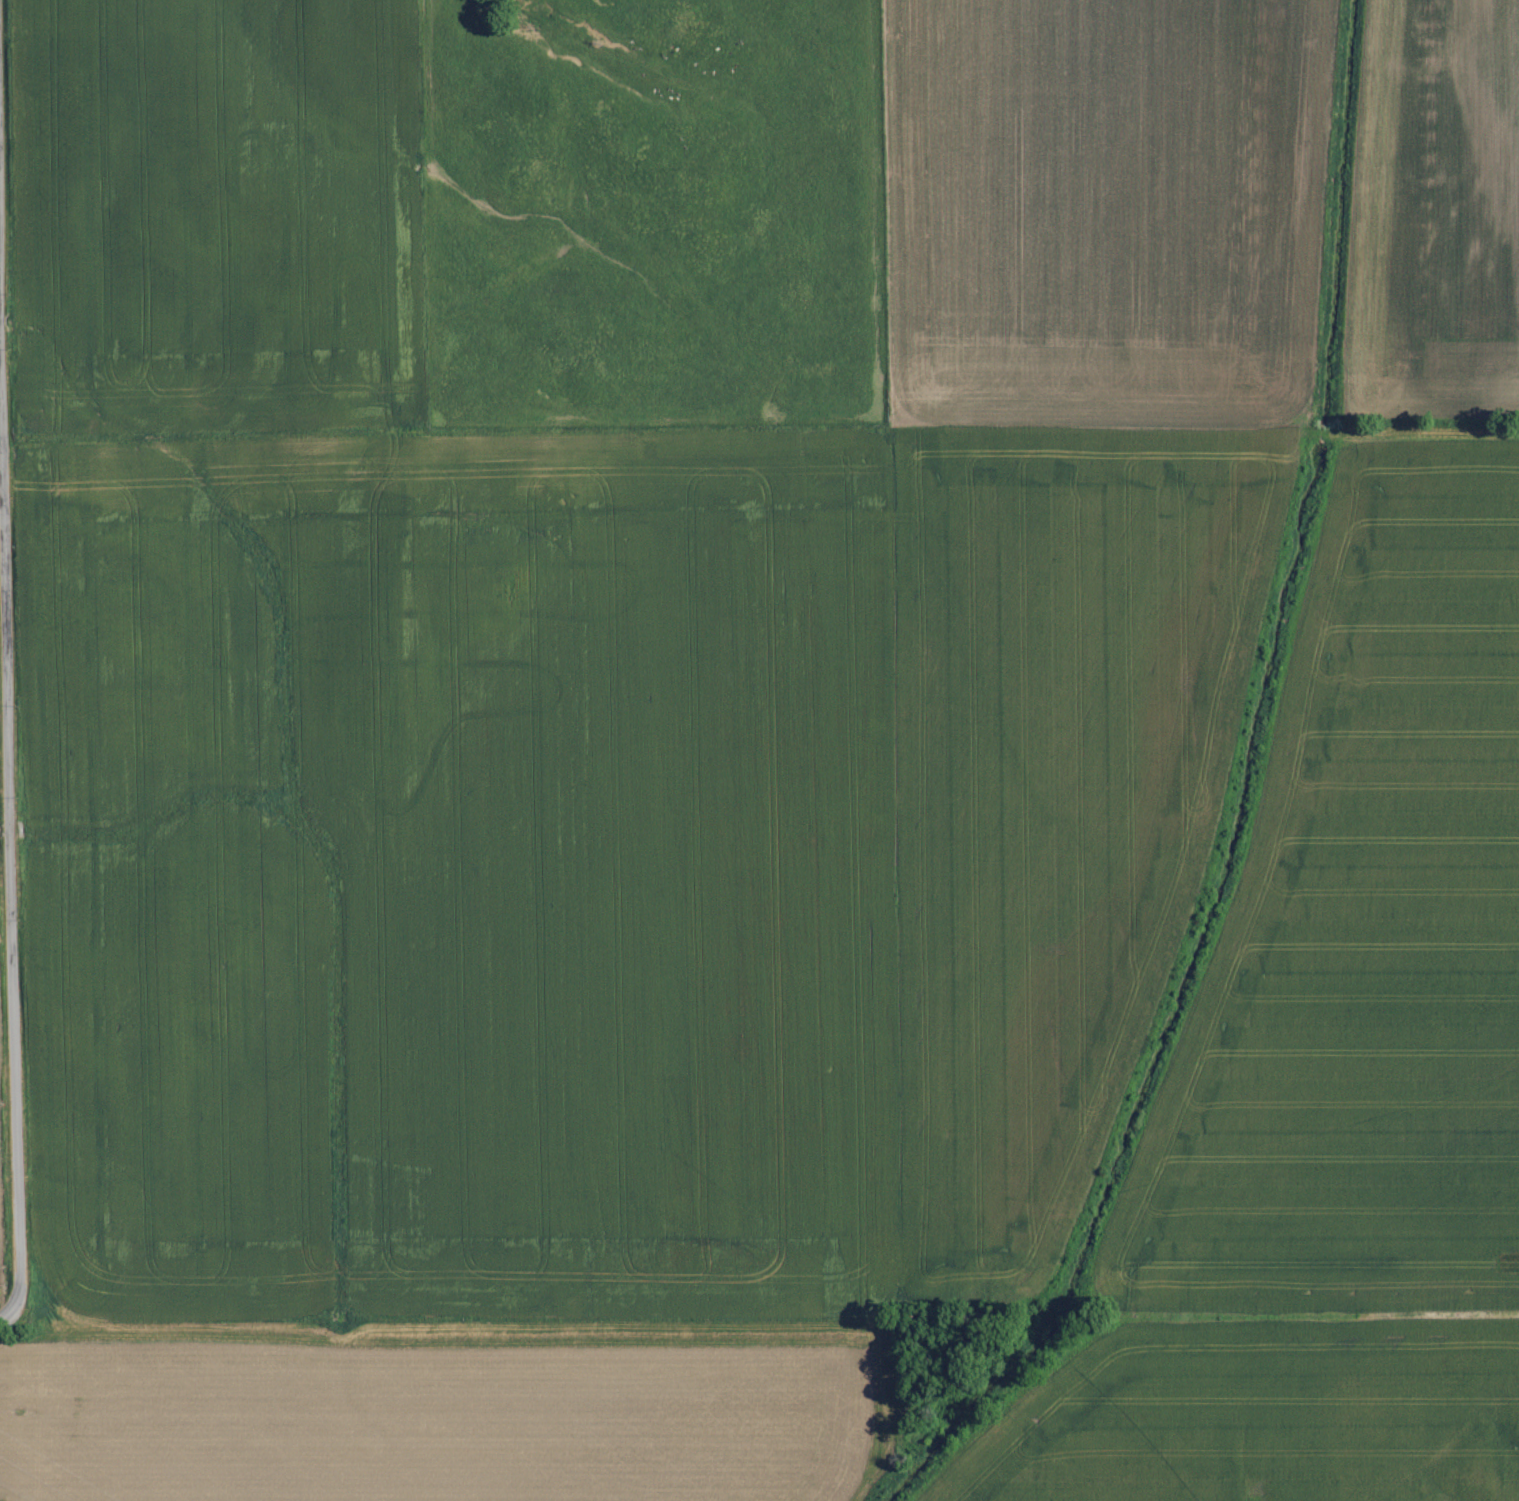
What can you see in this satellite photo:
road: (14, 748)
road: (24, 1301)

